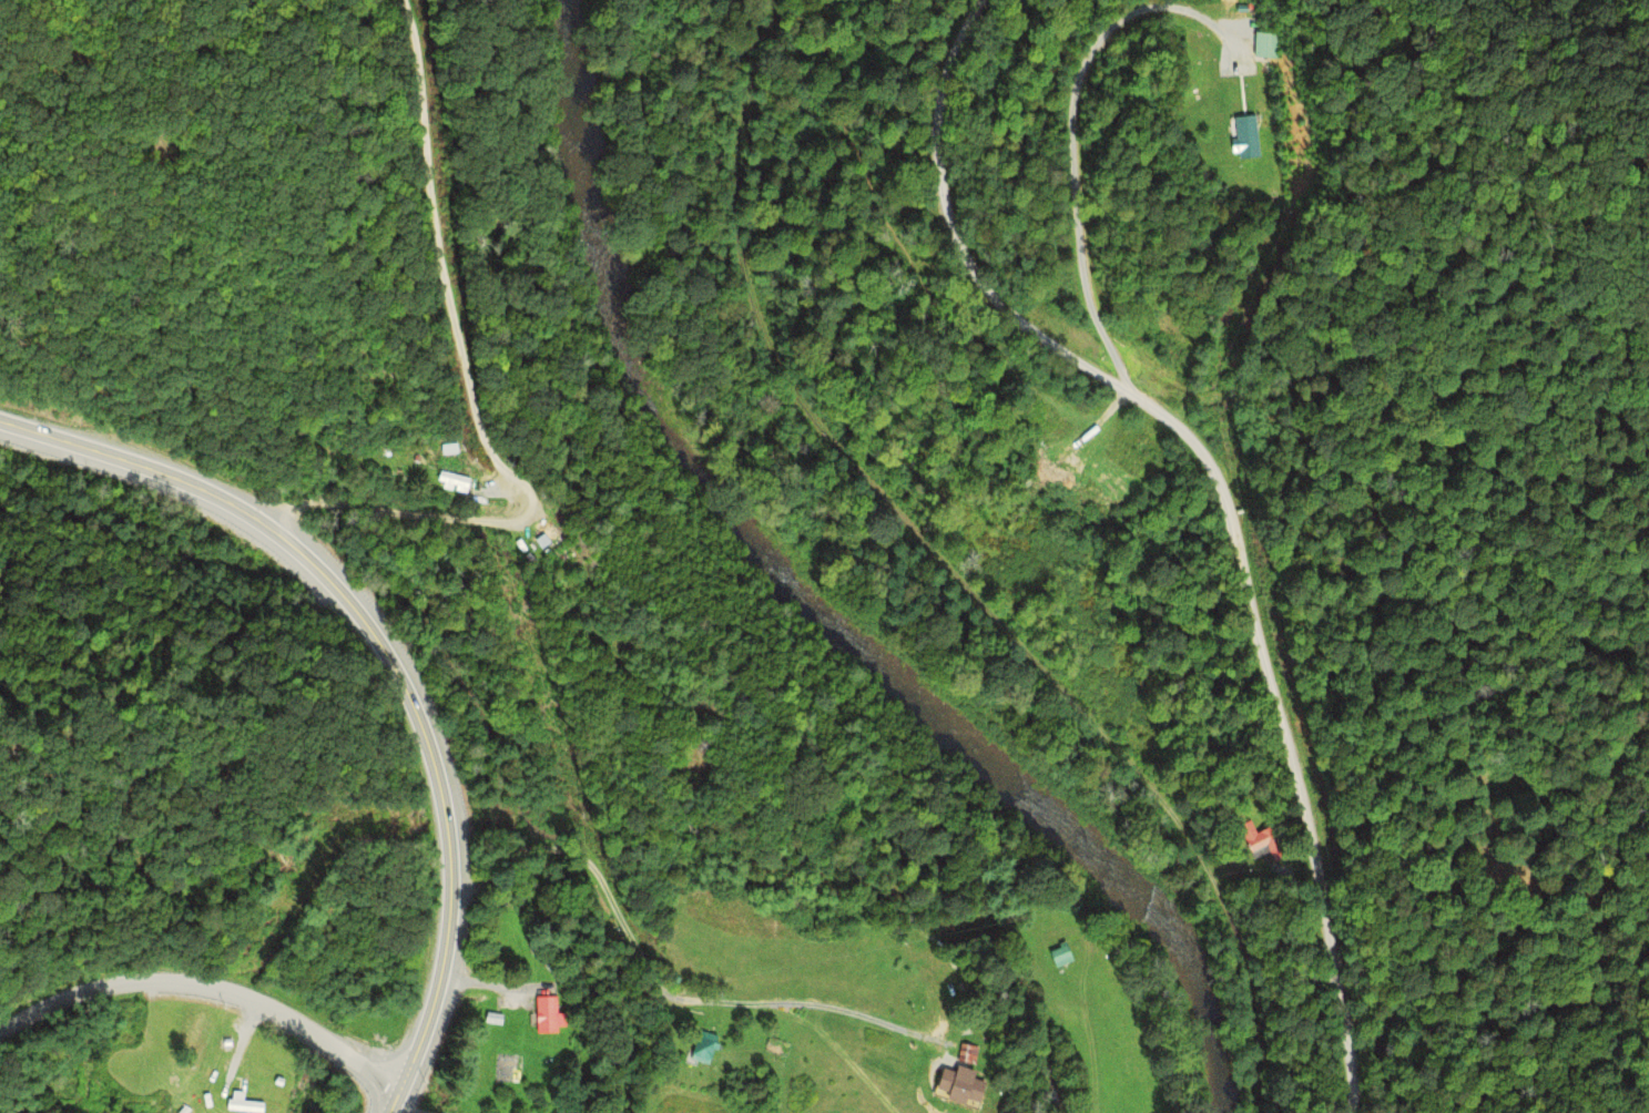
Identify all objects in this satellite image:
building: (1275, 12)
building: (1266, 43)
building: (1246, 136)
road: (1072, 137)
road: (743, 163)
road: (474, 396)
building: (444, 450)
building: (450, 478)
road: (1229, 494)
building: (533, 539)
road: (396, 658)
road: (1070, 696)
building: (1263, 840)
building: (1059, 956)
road: (208, 984)
building: (696, 1009)
building: (547, 1015)
building: (702, 1046)
building: (965, 1053)
building: (242, 1105)

